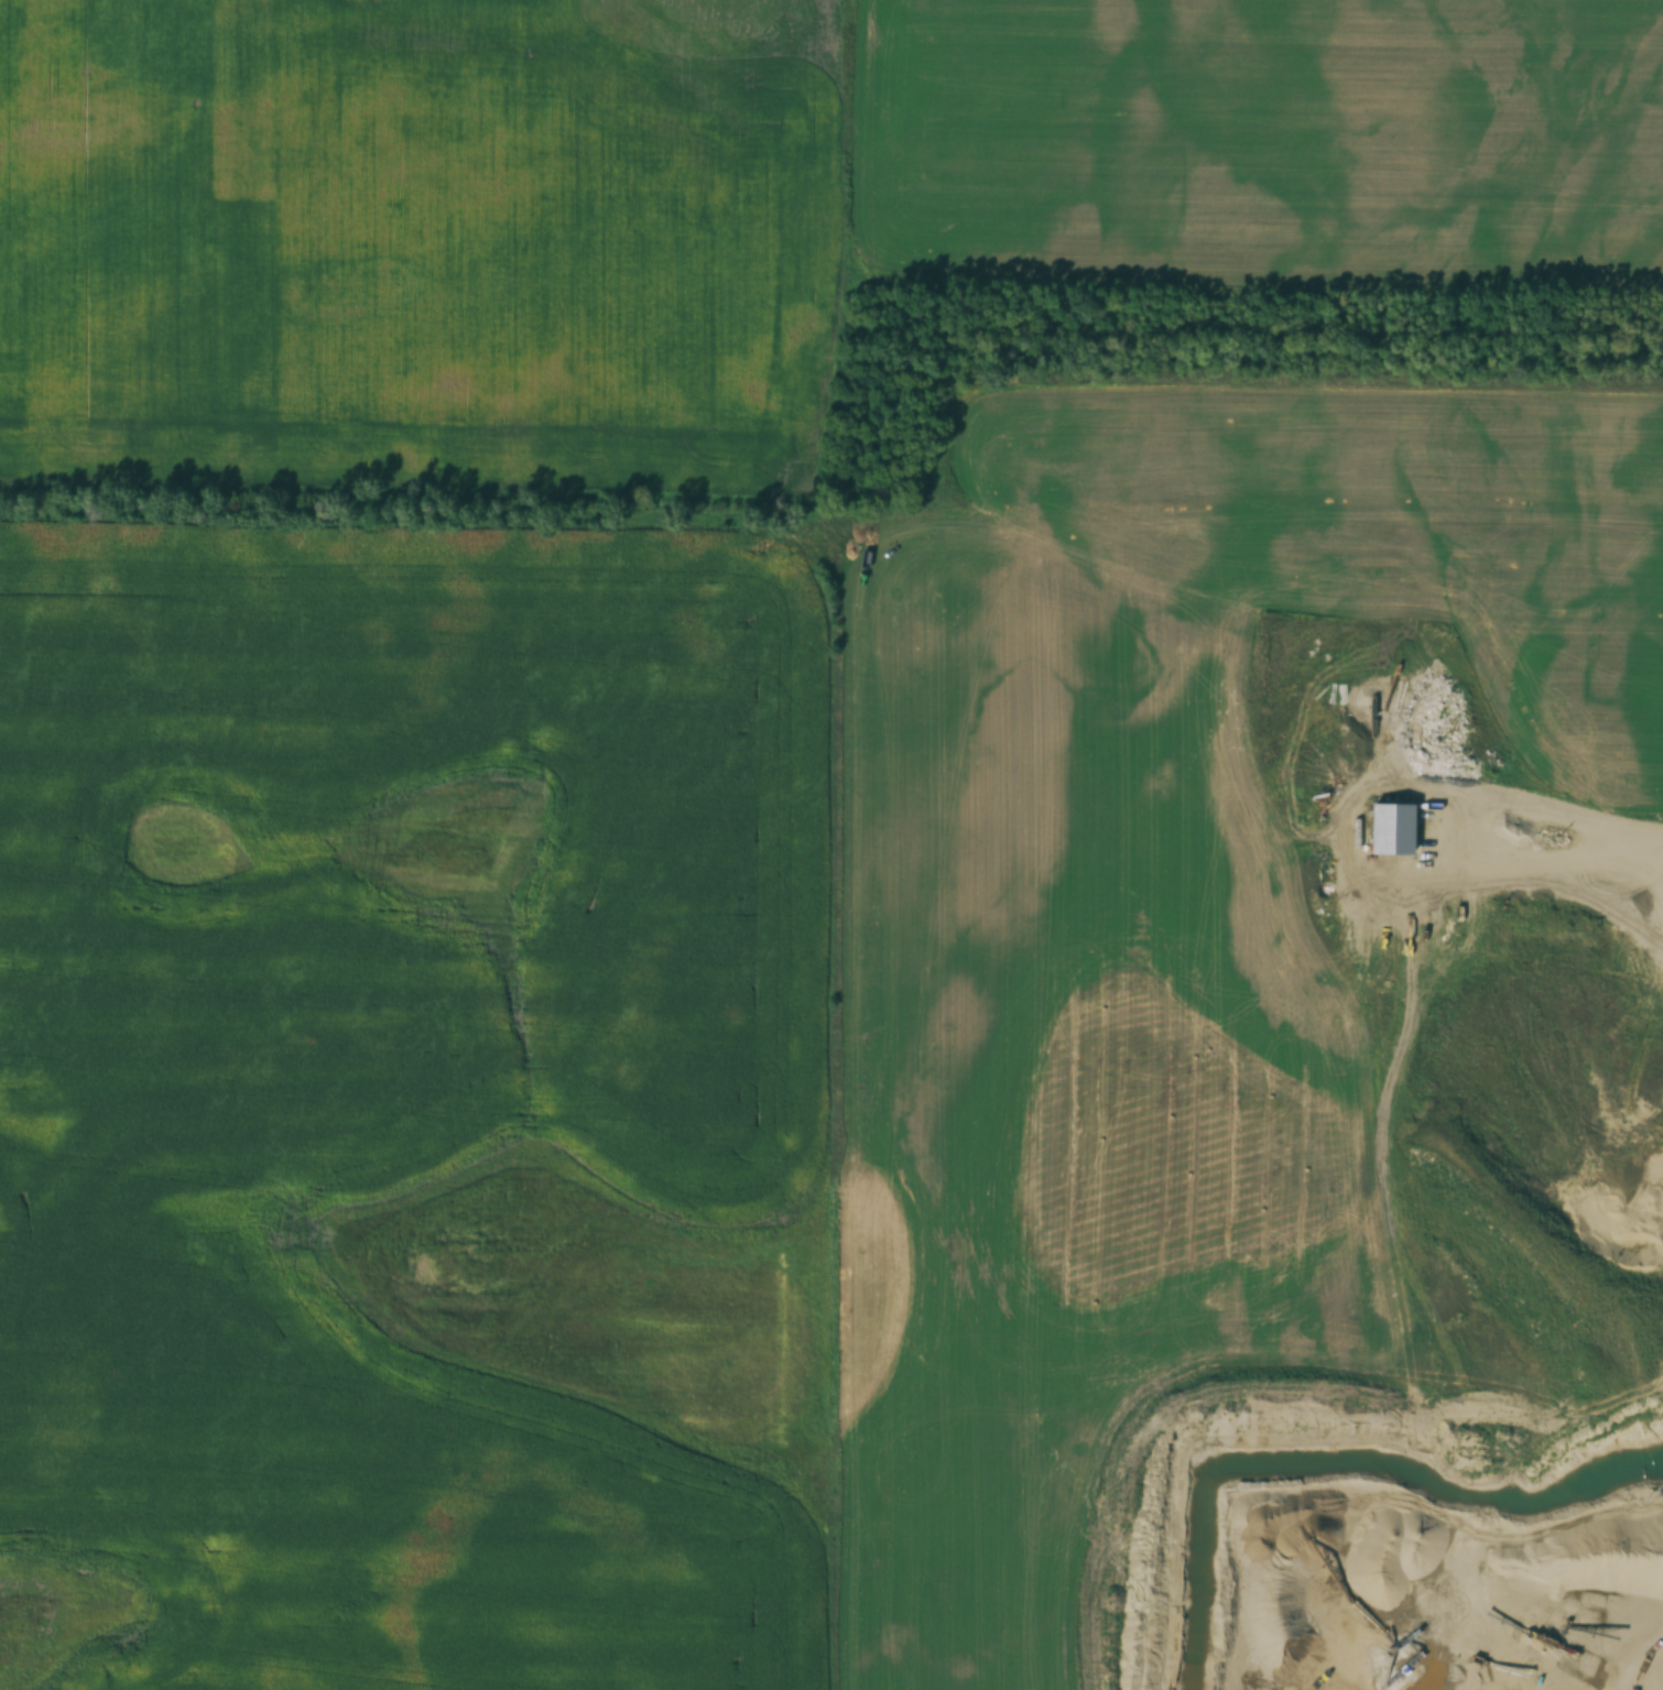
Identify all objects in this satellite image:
building: (1398, 613)
building: (1402, 716)
building: (1284, 743)
road: (1548, 822)

